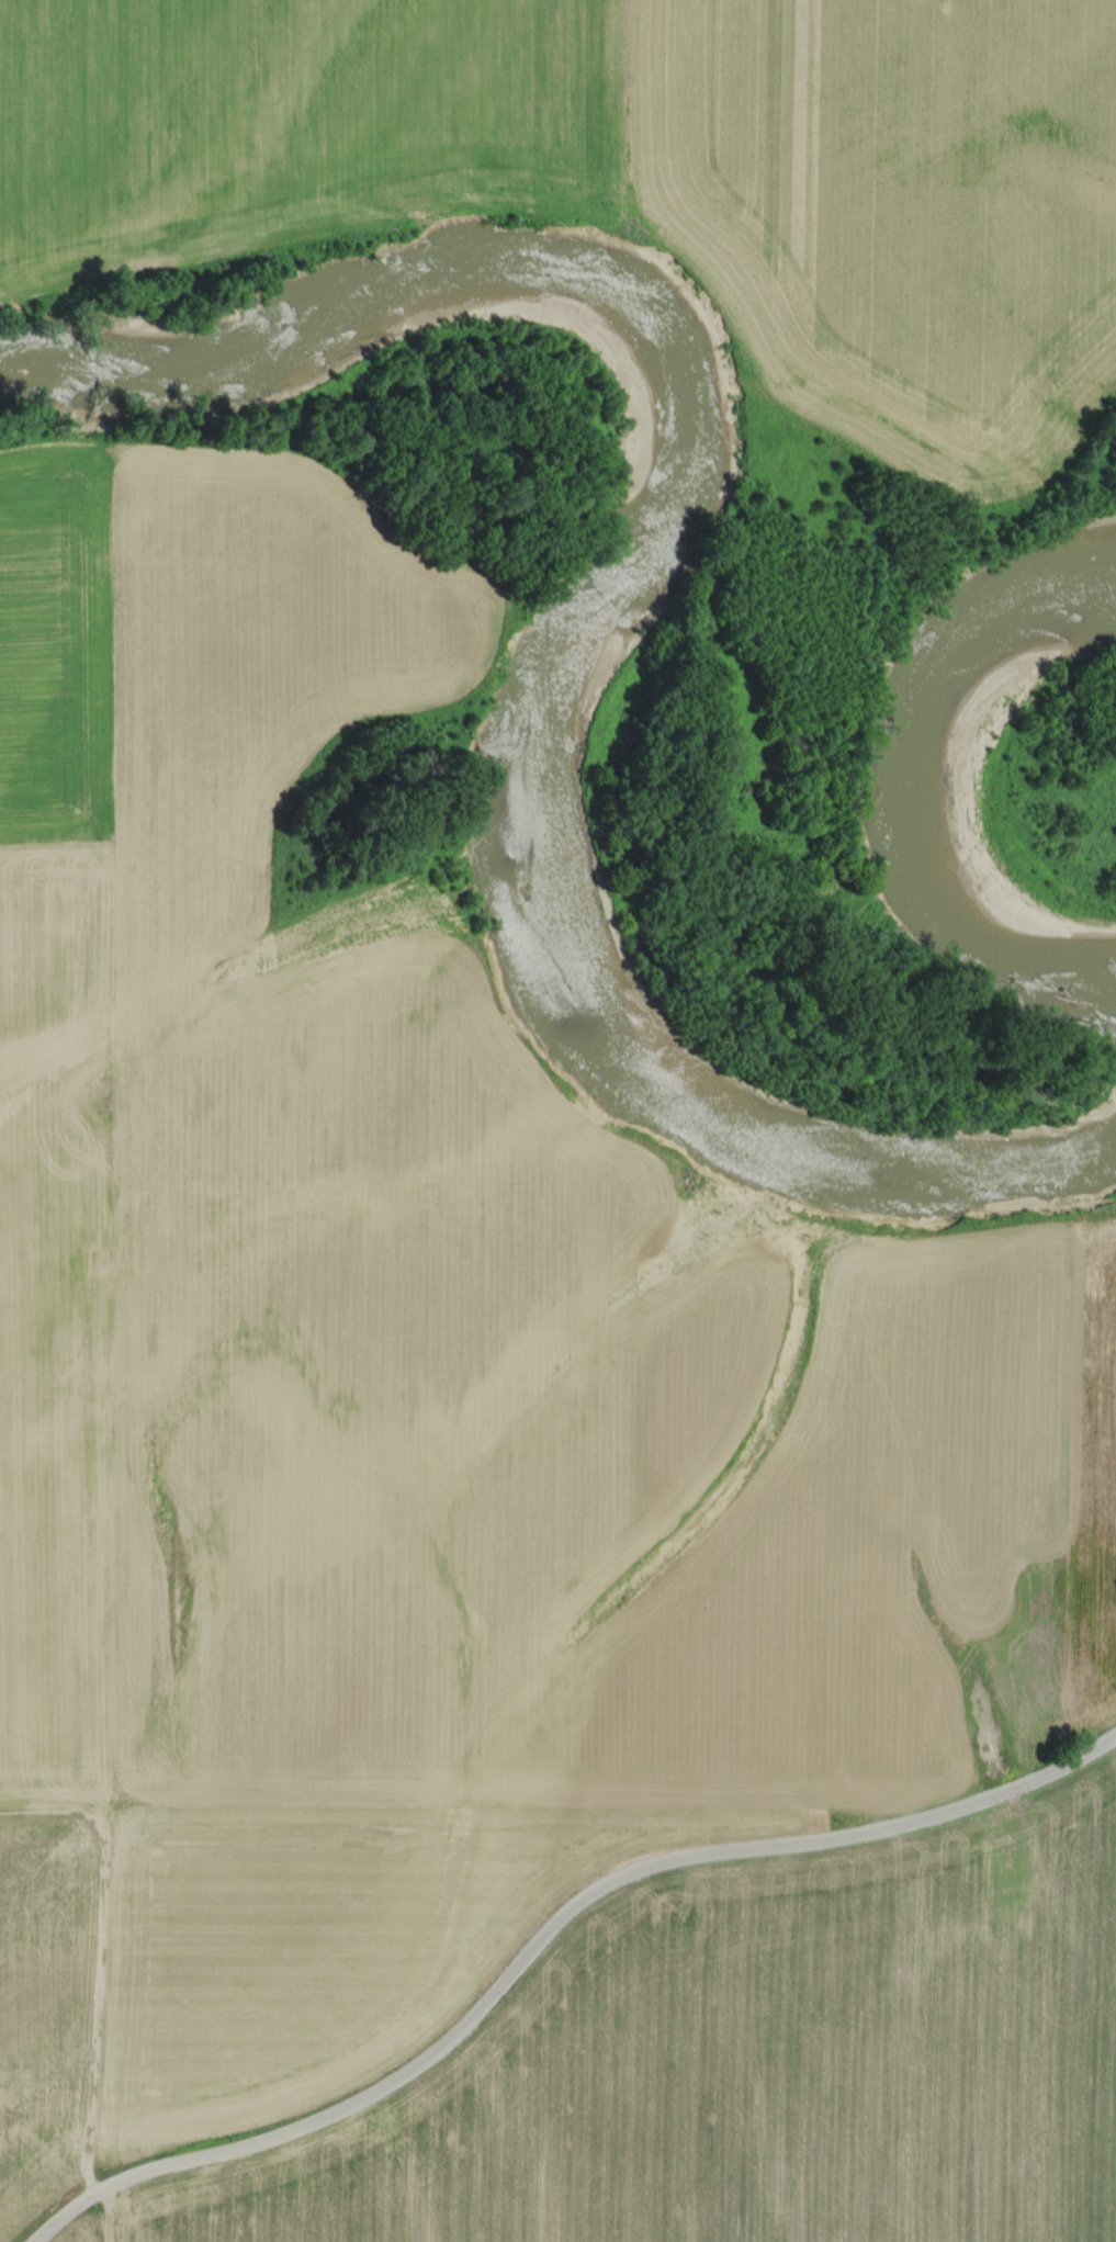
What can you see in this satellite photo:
river: (625, 626)
river: (1011, 723)
road: (548, 1933)

